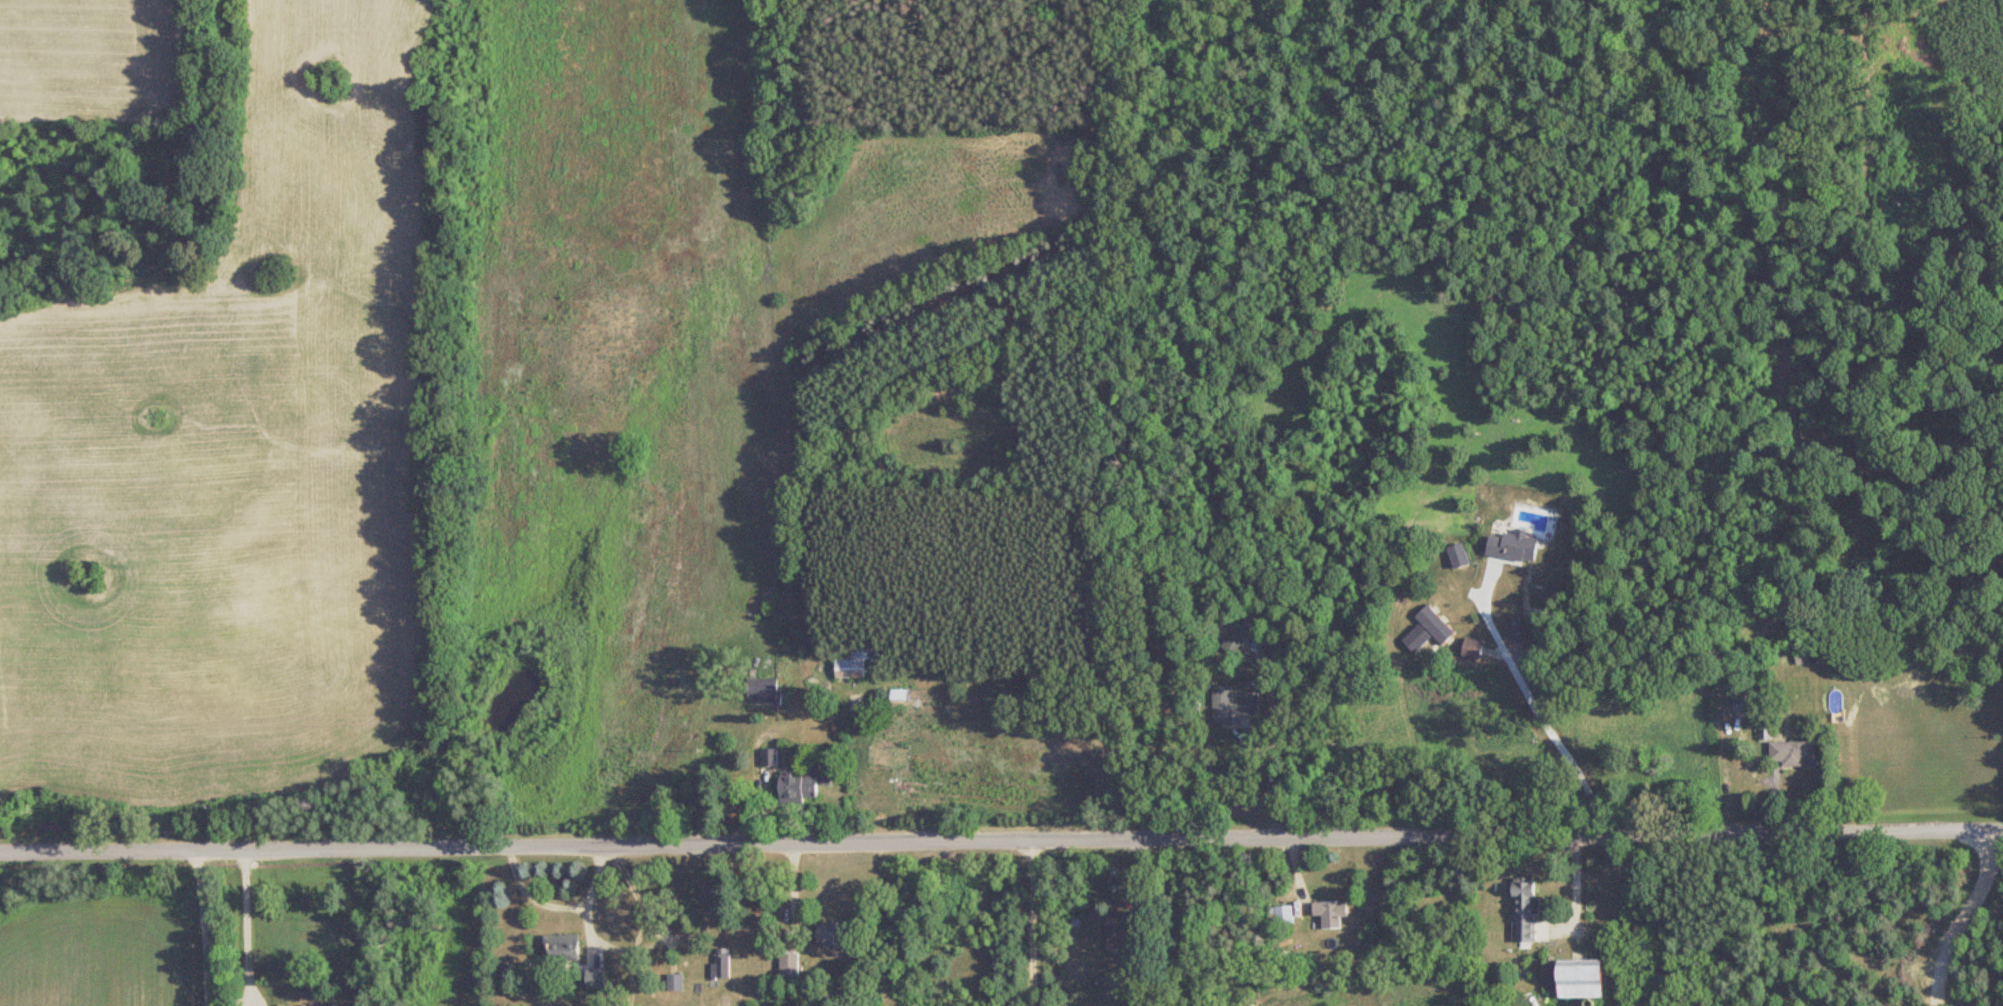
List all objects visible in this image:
building: (1513, 547)
building: (1427, 631)
building: (1236, 639)
building: (1471, 649)
building: (850, 664)
building: (762, 690)
road: (1536, 703)
building: (1746, 703)
building: (1232, 704)
building: (1793, 752)
road: (1274, 783)
building: (797, 789)
road: (1001, 840)
road: (641, 893)
road: (562, 907)
building: (1524, 911)
building: (1328, 914)
building: (1282, 915)
road: (1034, 922)
road: (196, 928)
road: (249, 928)
building: (830, 934)
building: (1123, 934)
building: (561, 947)
building: (721, 963)
building: (595, 977)
building: (1574, 978)
building: (676, 982)

